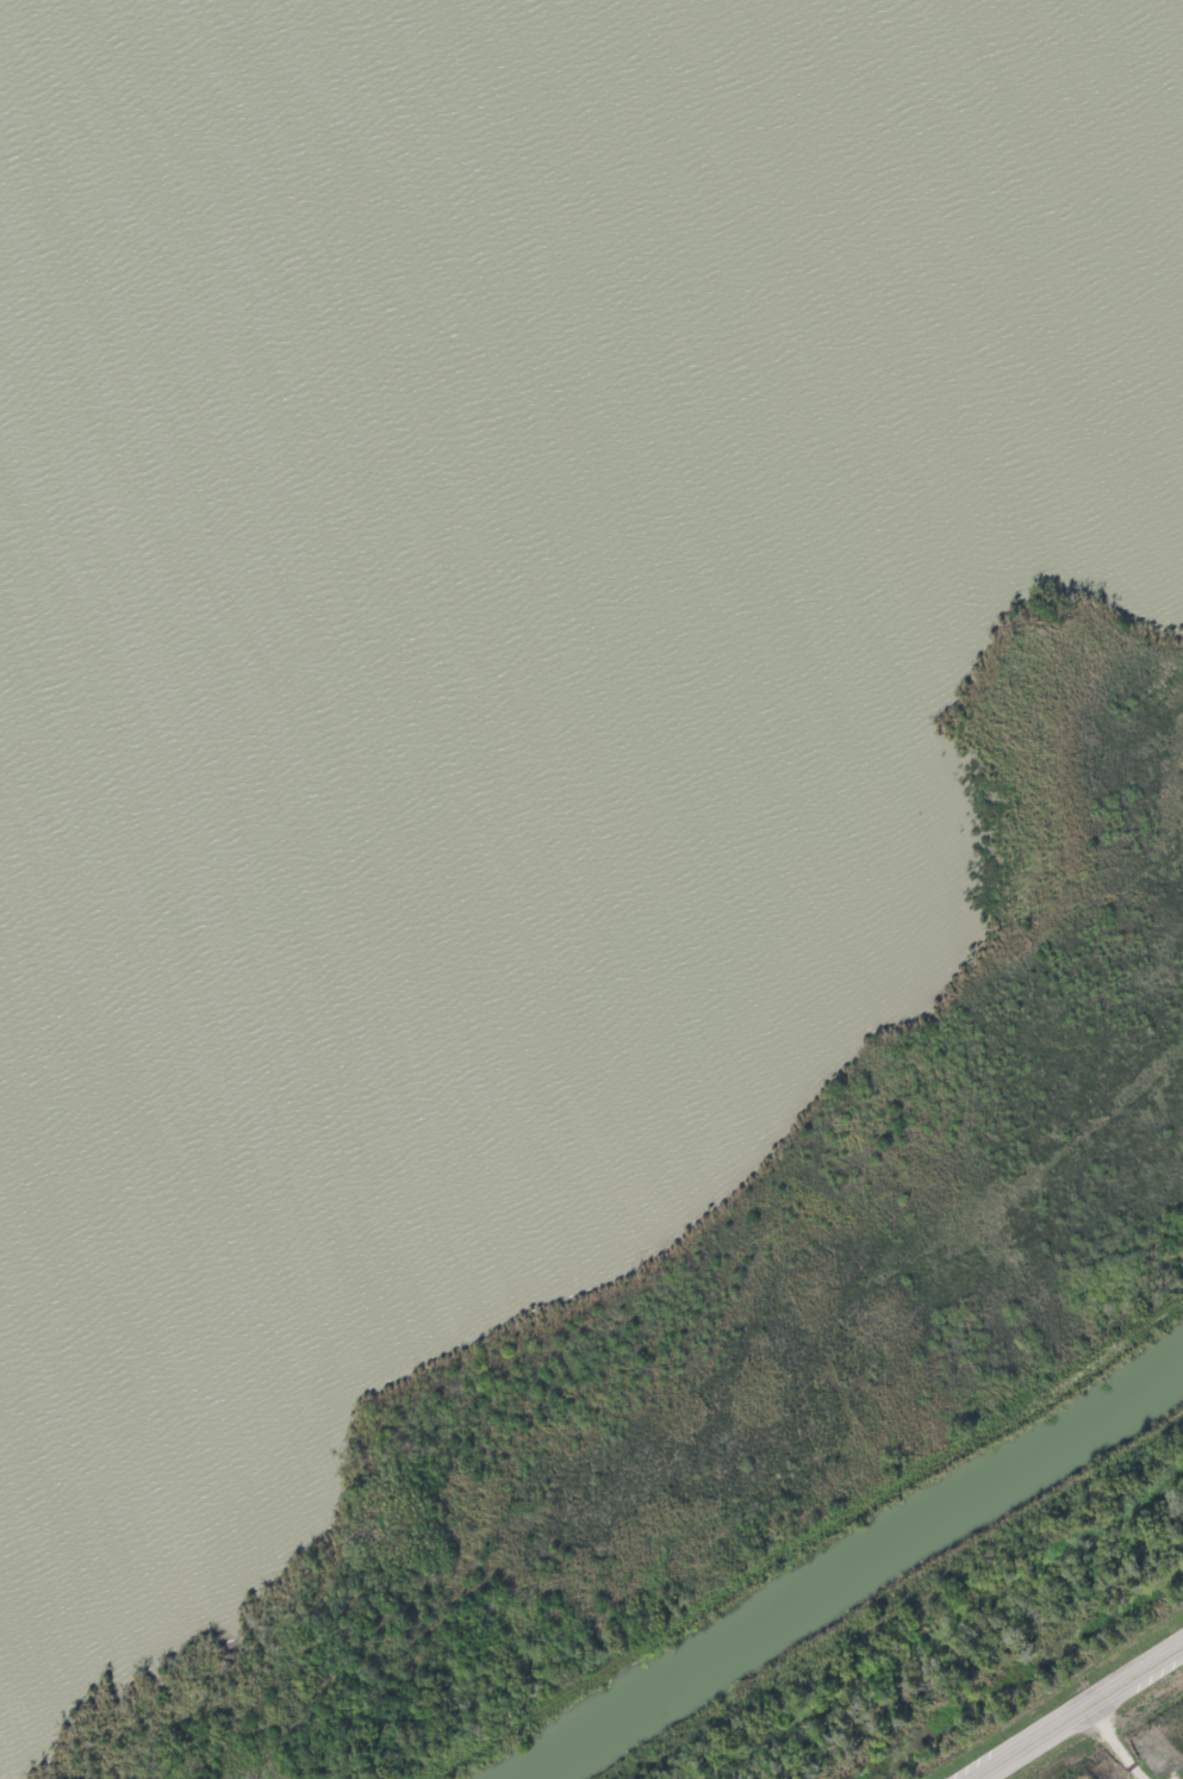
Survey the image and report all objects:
road: (1081, 1715)
road: (1120, 1744)

